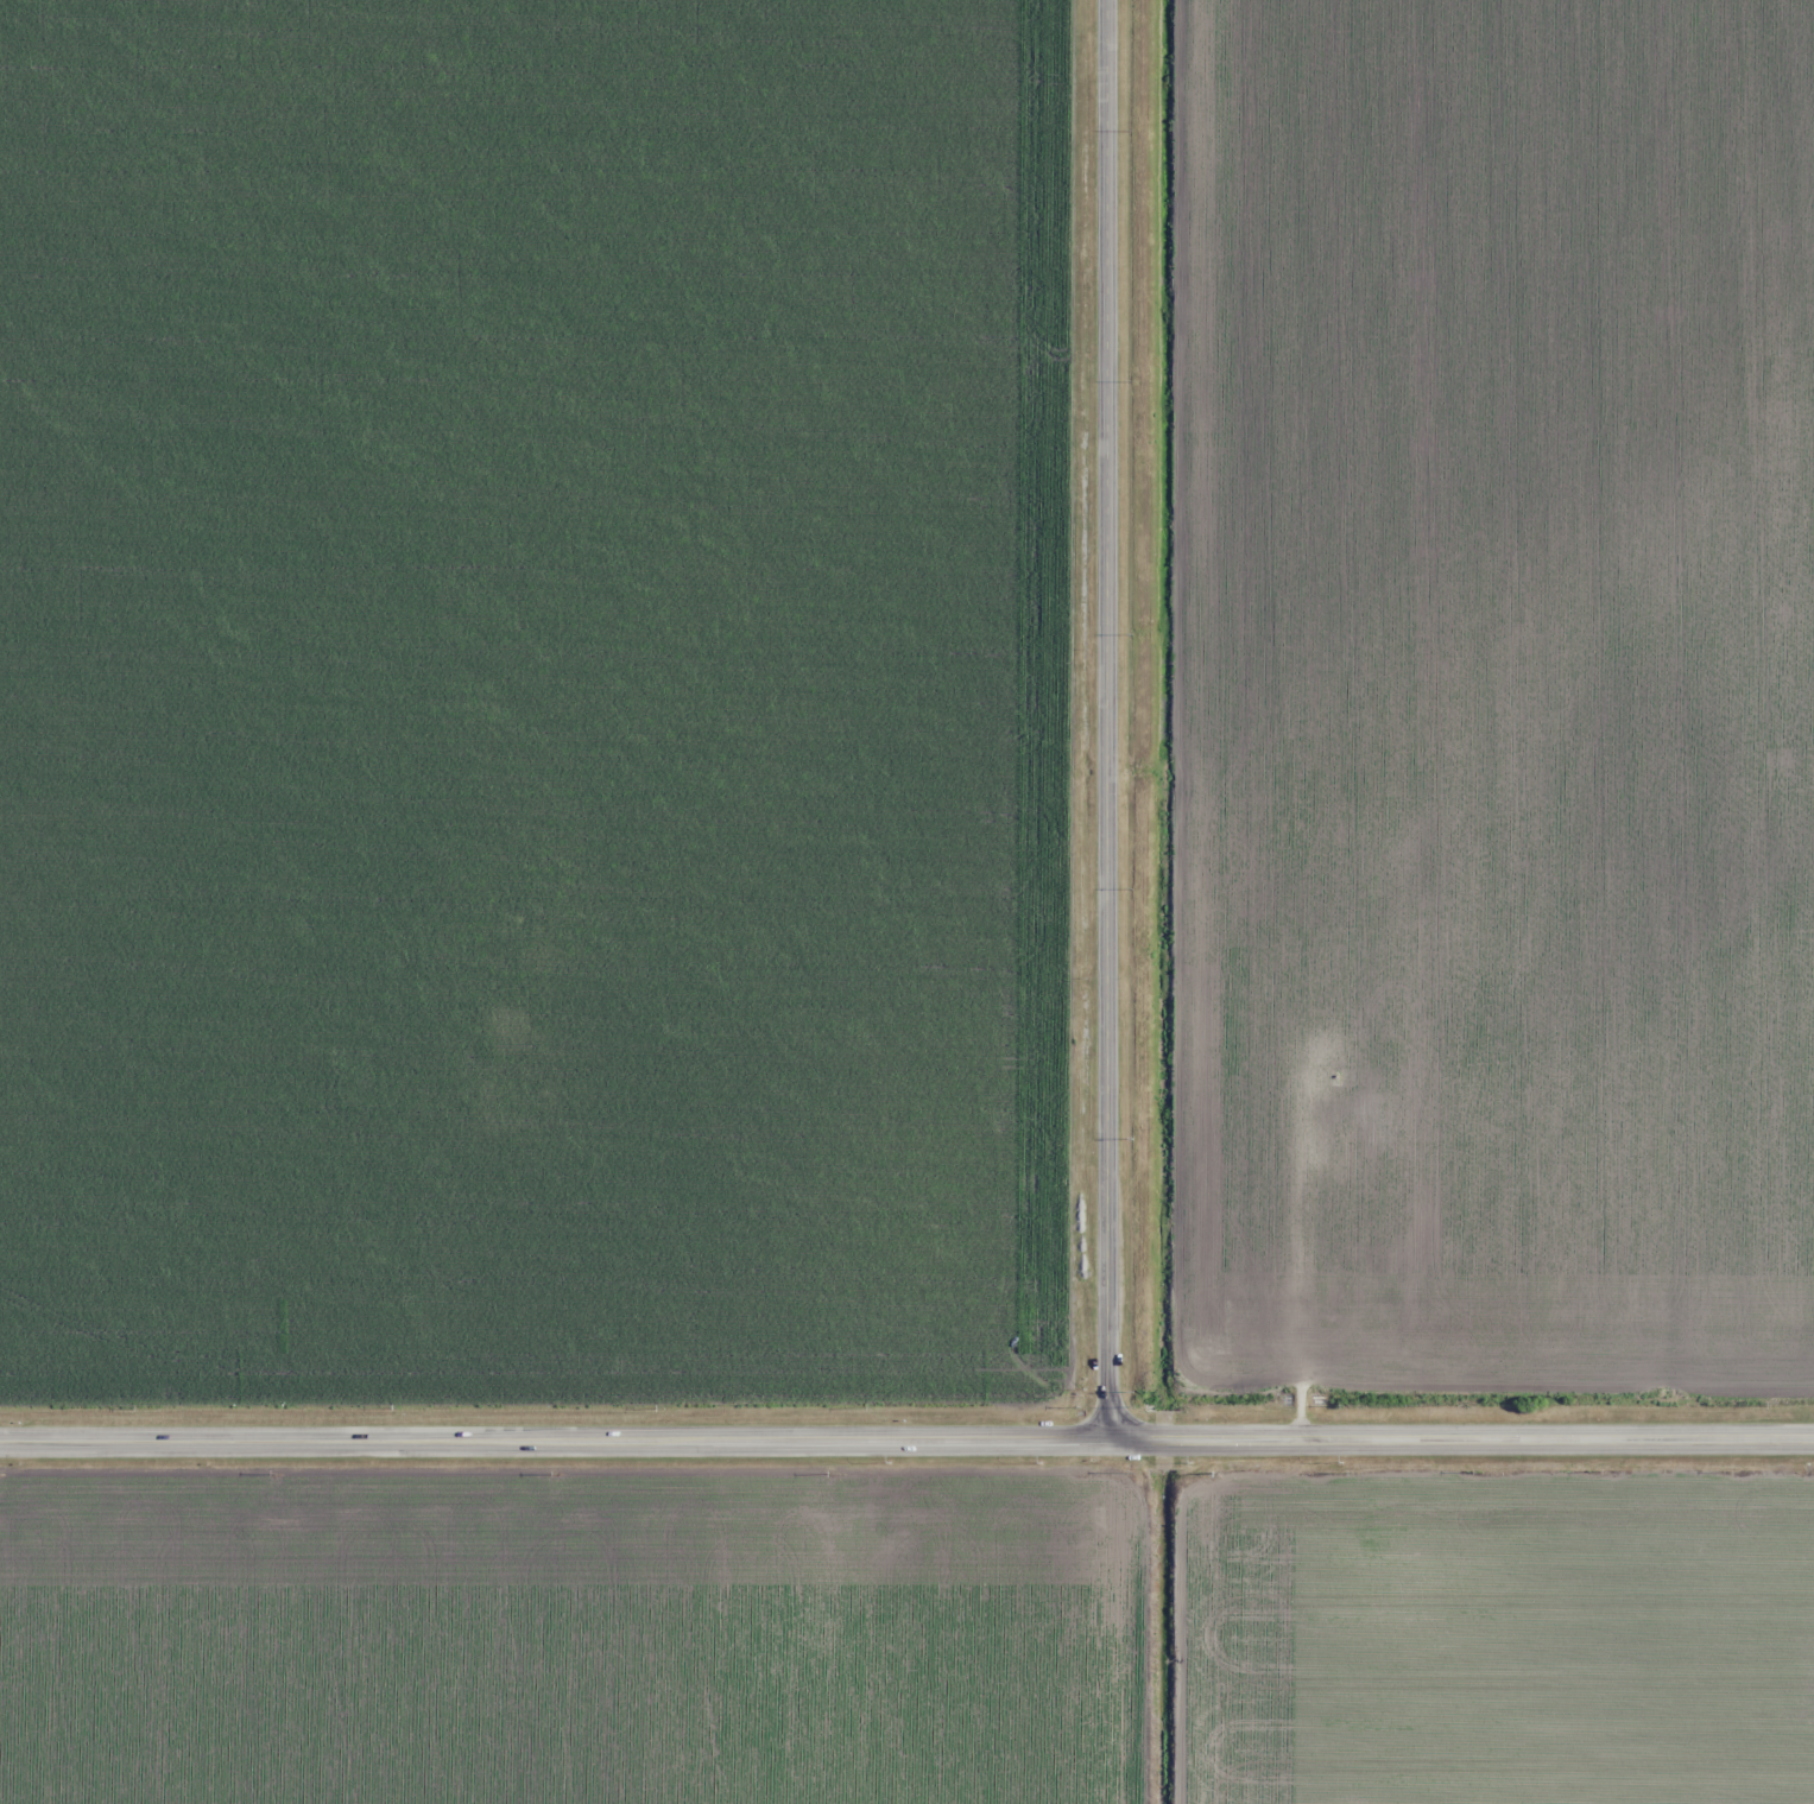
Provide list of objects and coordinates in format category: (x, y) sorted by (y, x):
road: (1107, 721)
road: (906, 1441)

